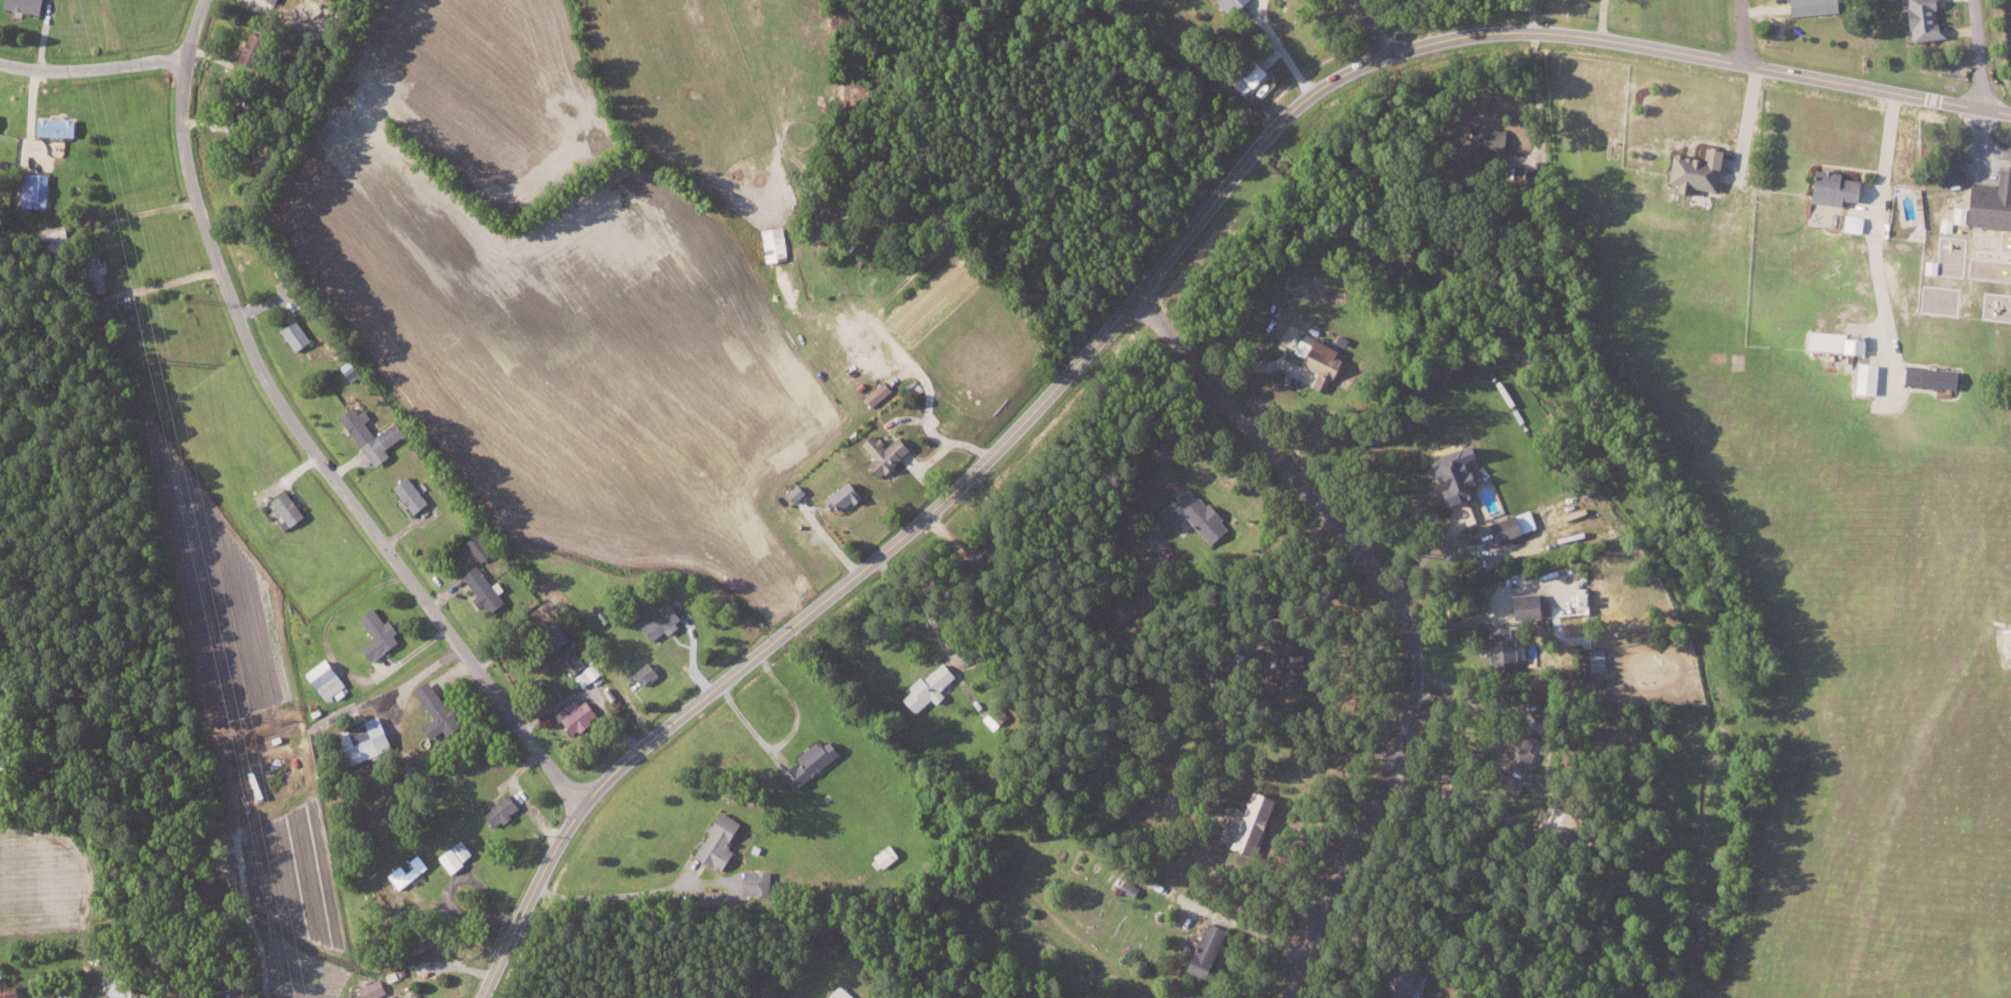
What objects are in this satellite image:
building: (276, 1)
building: (2010, 1)
building: (28, 5)
building: (1227, 5)
building: (1808, 6)
building: (1920, 21)
road: (1371, 27)
road: (1742, 32)
road: (1281, 47)
building: (255, 48)
road: (1979, 54)
road: (92, 69)
building: (1245, 73)
building: (0, 114)
road: (1747, 118)
building: (59, 126)
building: (1946, 168)
building: (1691, 171)
building: (37, 190)
building: (1986, 205)
building: (1850, 223)
building: (98, 277)
road: (1140, 289)
power tower: (196, 301)
building: (299, 333)
building: (1829, 342)
building: (1323, 359)
power tower: (161, 361)
building: (352, 369)
building: (1926, 378)
building: (1861, 379)
building: (880, 392)
building: (374, 434)
road: (299, 436)
building: (889, 453)
building: (1449, 472)
building: (799, 492)
building: (413, 494)
building: (846, 496)
building: (291, 507)
building: (1198, 513)
building: (1510, 524)
building: (480, 547)
building: (486, 588)
building: (1523, 605)
road: (1404, 612)
building: (663, 621)
building: (380, 633)
building: (2005, 640)
building: (1495, 647)
building: (1593, 659)
building: (1285, 660)
building: (574, 662)
building: (649, 673)
building: (587, 674)
building: (328, 678)
building: (933, 686)
power tower: (288, 704)
building: (441, 711)
building: (581, 715)
power tower: (246, 717)
building: (368, 740)
building: (1512, 761)
building: (813, 763)
building: (504, 808)
building: (1245, 822)
building: (722, 840)
building: (458, 855)
building: (409, 869)
building: (1200, 948)
building: (1400, 980)
building: (375, 989)
building: (130, 991)
building: (418, 995)
building: (403, 997)

